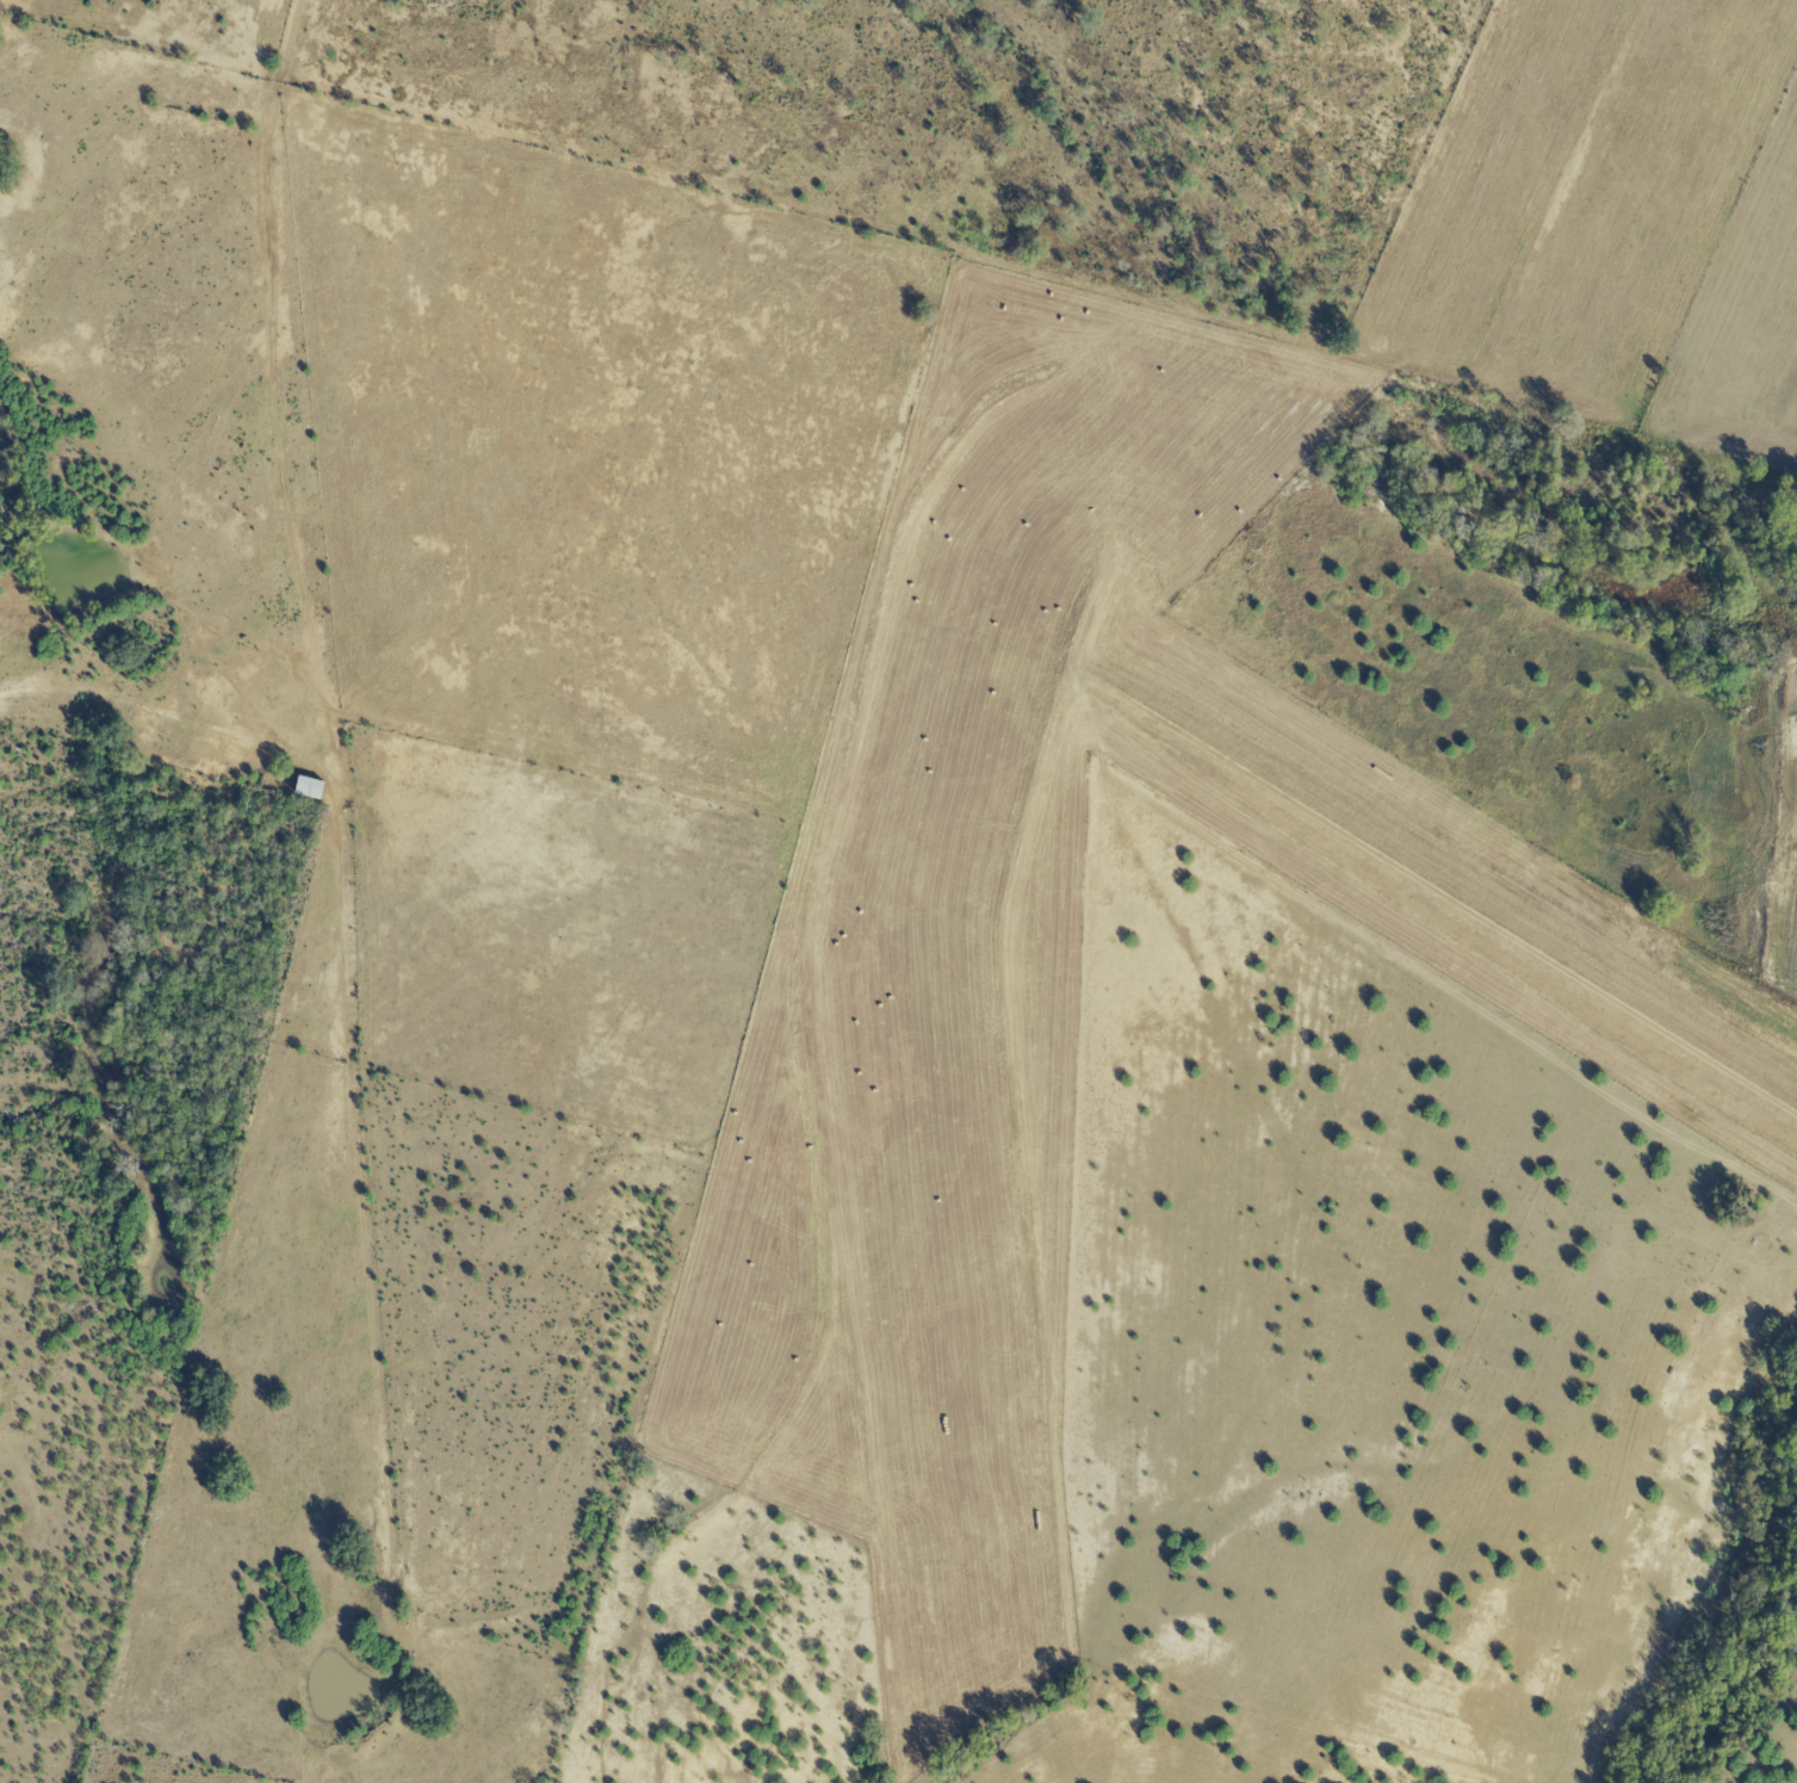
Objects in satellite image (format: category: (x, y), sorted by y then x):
road: (161, 708)
building: (310, 788)
dam: (1474, 911)

